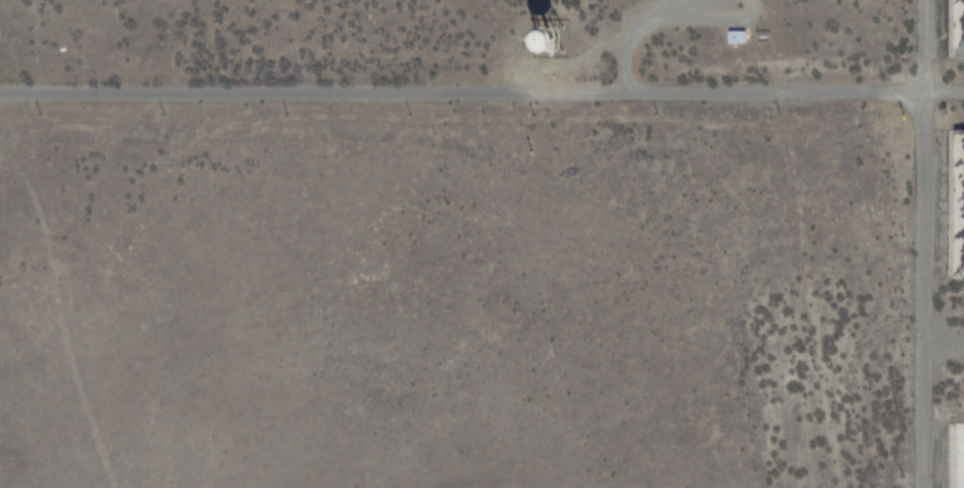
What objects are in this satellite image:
building: (956, 27)
building: (550, 35)
storage tank: (550, 35)
building: (736, 37)
road: (462, 94)
building: (957, 202)
road: (924, 243)
building: (959, 455)

